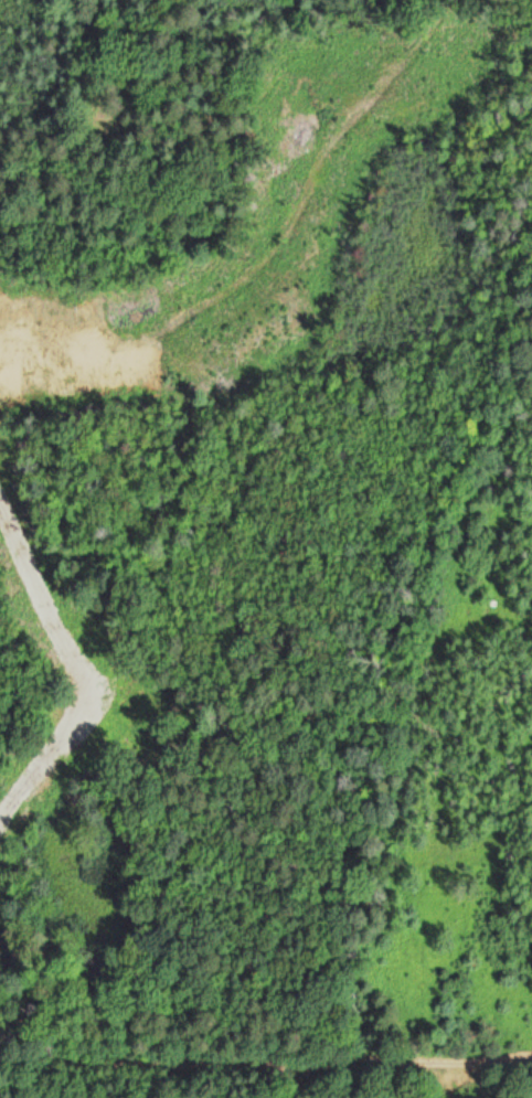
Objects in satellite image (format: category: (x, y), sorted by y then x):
road: (266, 1063)

